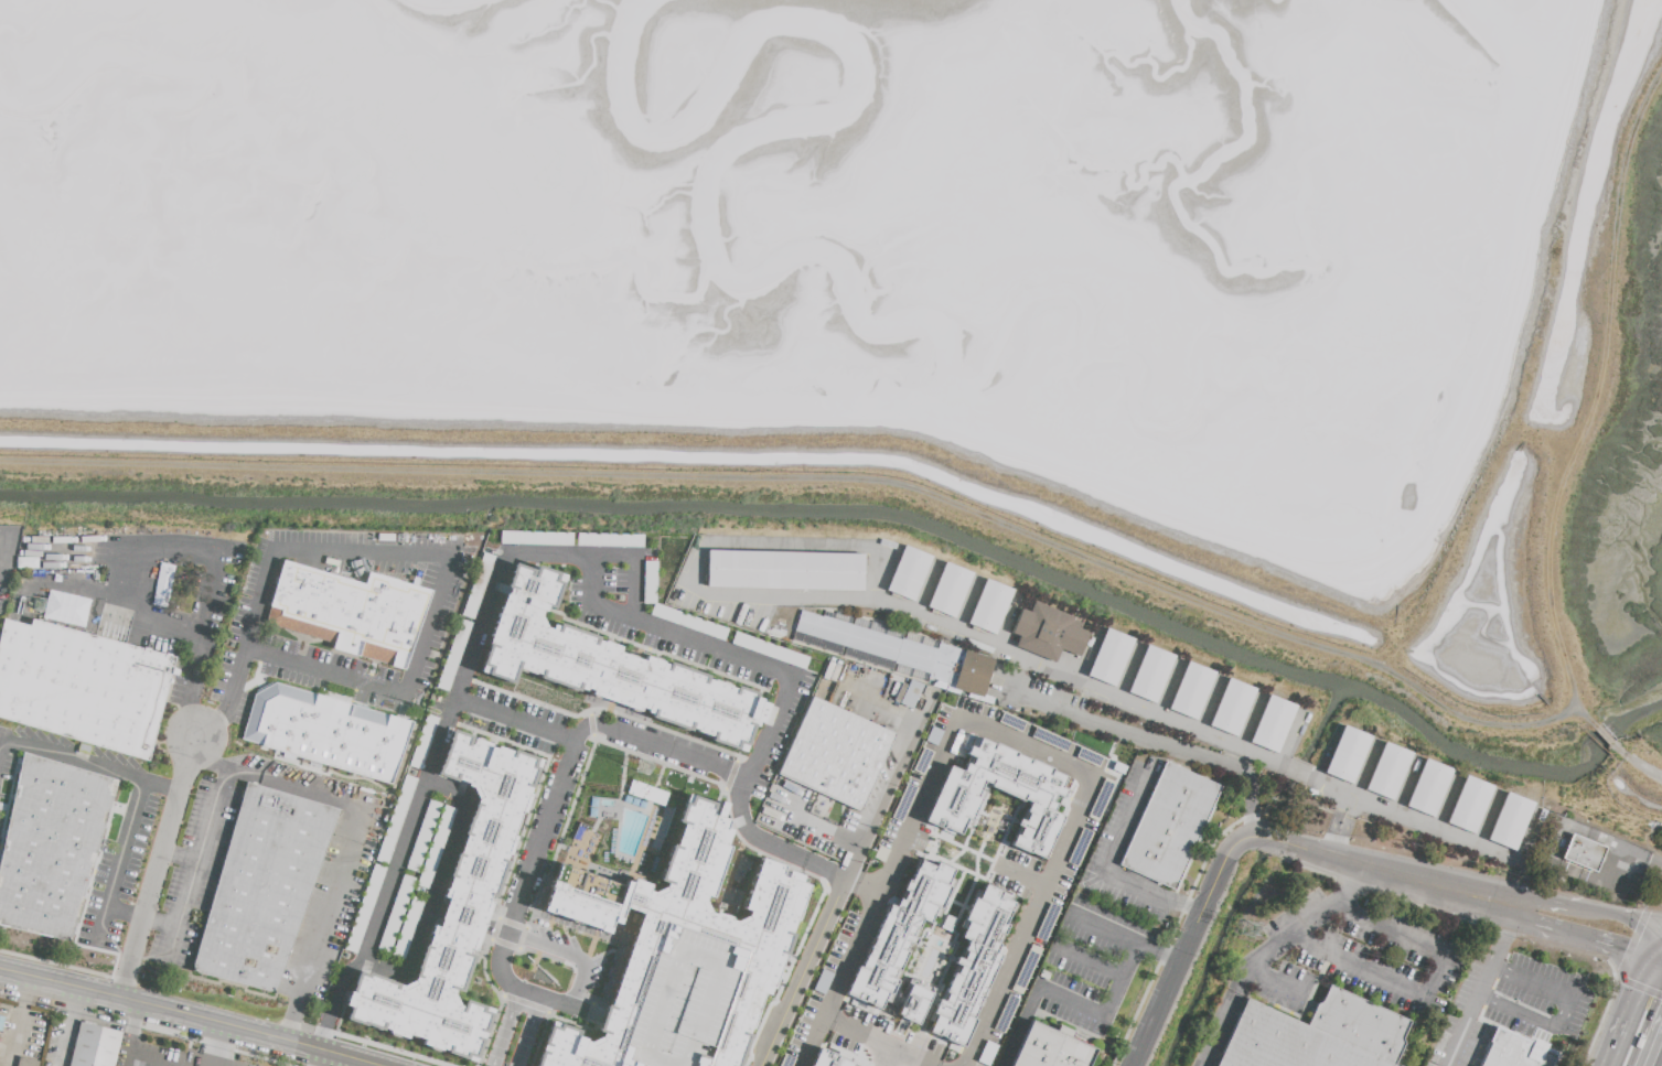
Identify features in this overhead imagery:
road: (221, 557)
building: (785, 571)
road: (451, 572)
building: (908, 573)
building: (948, 591)
parking lot: (6, 593)
road: (92, 594)
power tower: (39, 605)
building: (989, 607)
building: (351, 612)
parking lot: (253, 613)
building: (1048, 633)
road: (719, 652)
building: (903, 653)
road: (1015, 656)
building: (1109, 657)
building: (607, 666)
building: (1150, 675)
road: (240, 679)
building: (83, 686)
building: (1191, 691)
parking lot: (1038, 698)
road: (1046, 704)
building: (1232, 708)
road: (194, 711)
road: (448, 717)
road: (515, 719)
road: (215, 720)
building: (1273, 724)
building: (330, 733)
road: (1014, 735)
road: (658, 745)
building: (835, 754)
building: (1348, 755)
road: (1197, 756)
road: (902, 761)
power tower: (647, 768)
building: (1387, 772)
road: (143, 780)
road: (164, 786)
building: (1428, 788)
building: (1042, 792)
building: (648, 794)
road: (333, 797)
parking lot: (793, 801)
road: (1343, 803)
building: (1469, 805)
road: (1354, 807)
parking lot: (1128, 815)
parking lot: (146, 816)
building: (1510, 821)
building: (1169, 826)
road: (824, 827)
road: (1330, 835)
road: (1258, 838)
road: (1342, 839)
road: (769, 844)
building: (51, 846)
building: (1583, 853)
road: (1113, 862)
parking lot: (350, 863)
road: (1639, 865)
road: (160, 868)
road: (526, 880)
road: (436, 884)
building: (264, 889)
road: (1377, 892)
road: (1544, 900)
building: (459, 901)
road: (1655, 907)
road: (1191, 912)
road: (128, 915)
road: (1618, 916)
power tower: (1254, 929)
road: (1392, 934)
road: (1116, 935)
road: (1505, 935)
building: (894, 938)
road: (1581, 938)
road: (1631, 943)
traffic signals: (1621, 950)
building: (678, 954)
road: (1272, 956)
road: (1659, 957)
road: (1170, 958)
parking lot: (1355, 958)
road: (576, 960)
road: (1659, 960)
building: (971, 961)
road: (1093, 962)
parking lot: (1096, 966)
road: (1362, 968)
road: (804, 971)
road: (1437, 978)
road: (1489, 980)
road: (1535, 981)
road: (1276, 984)
road: (1638, 989)
building: (911, 1000)
road: (1071, 1000)
parking lot: (1513, 1006)
road: (1632, 1012)
road: (1522, 1013)
road: (1568, 1015)
road: (185, 1019)
road: (15, 1023)
road: (1599, 1023)
road: (502, 1026)
road: (66, 1029)
road: (528, 1032)
road: (1466, 1032)
building: (1317, 1035)
road: (129, 1042)
road: (867, 1043)
road: (1652, 1043)
road: (811, 1045)
building: (94, 1046)
road: (215, 1047)
building: (1050, 1049)
building: (1513, 1053)
road: (903, 1058)
road: (315, 1059)
building: (826, 1059)
building: (26, 1063)
road: (355, 1064)

